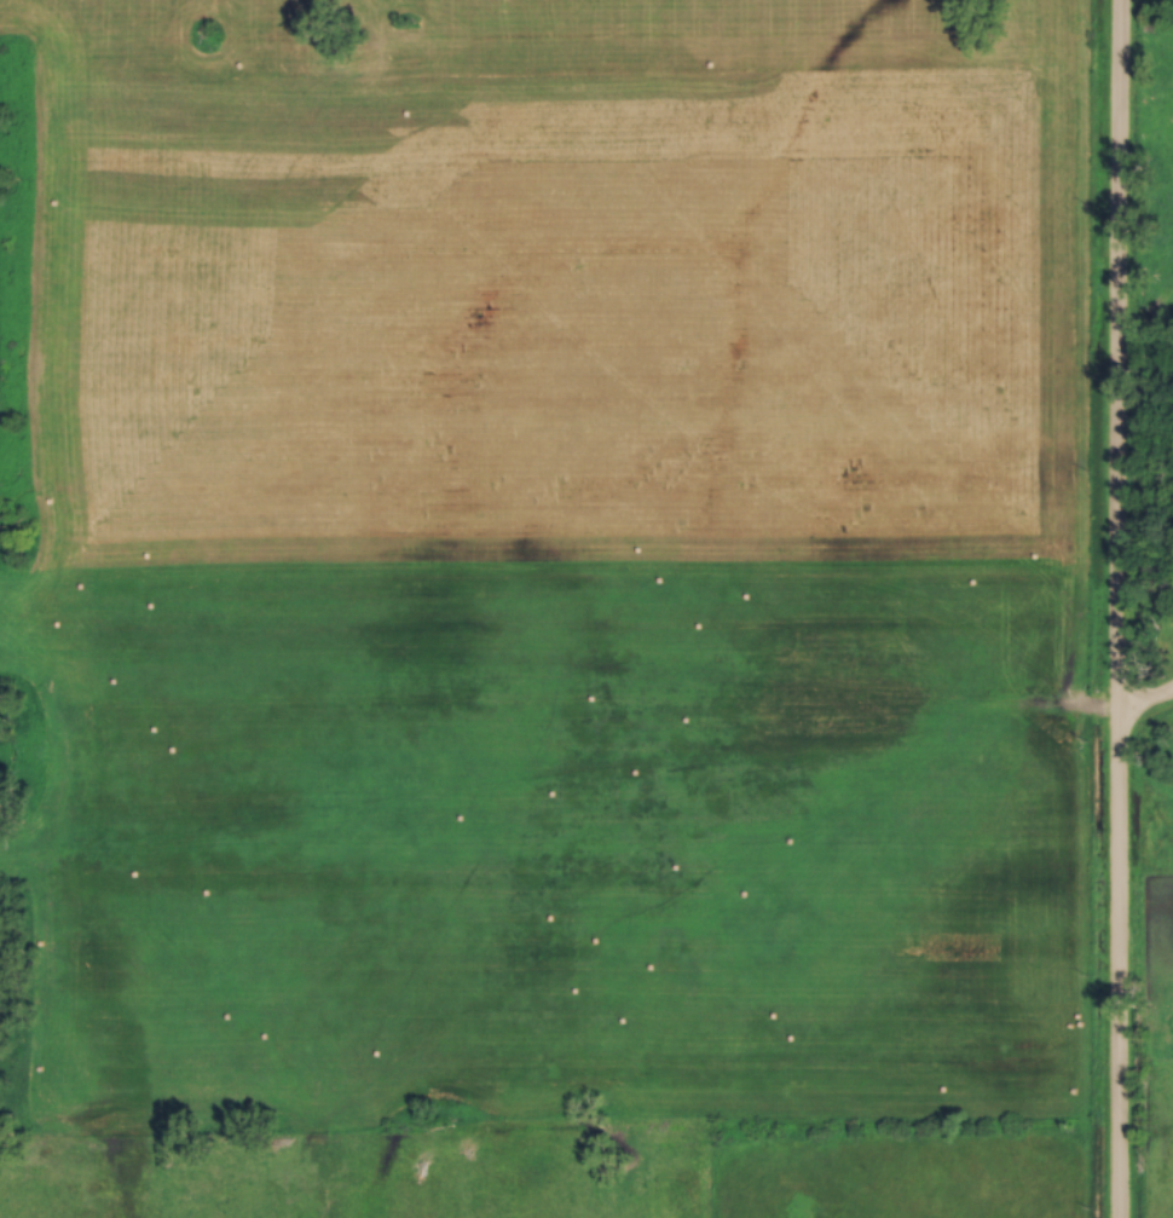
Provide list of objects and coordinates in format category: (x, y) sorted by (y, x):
road: (1117, 608)
road: (1145, 708)

